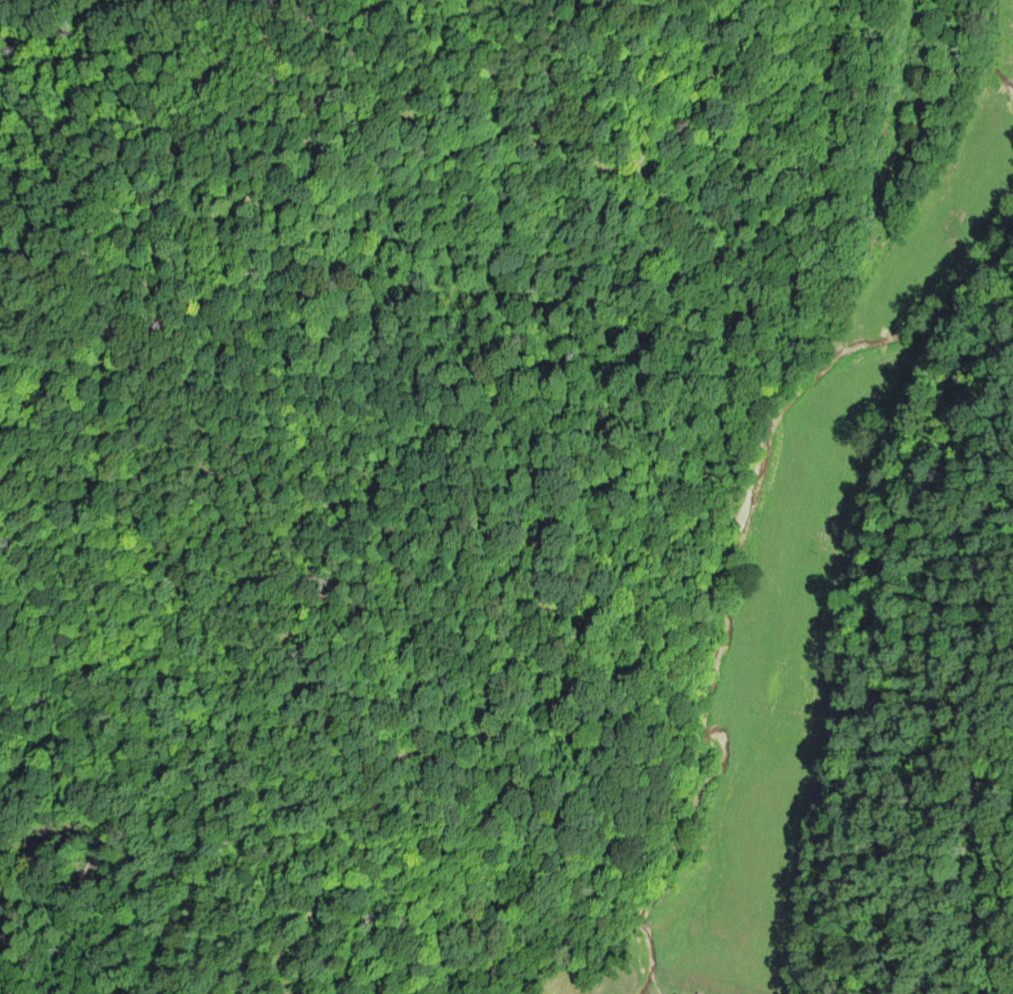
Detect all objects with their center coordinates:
road: (876, 633)

